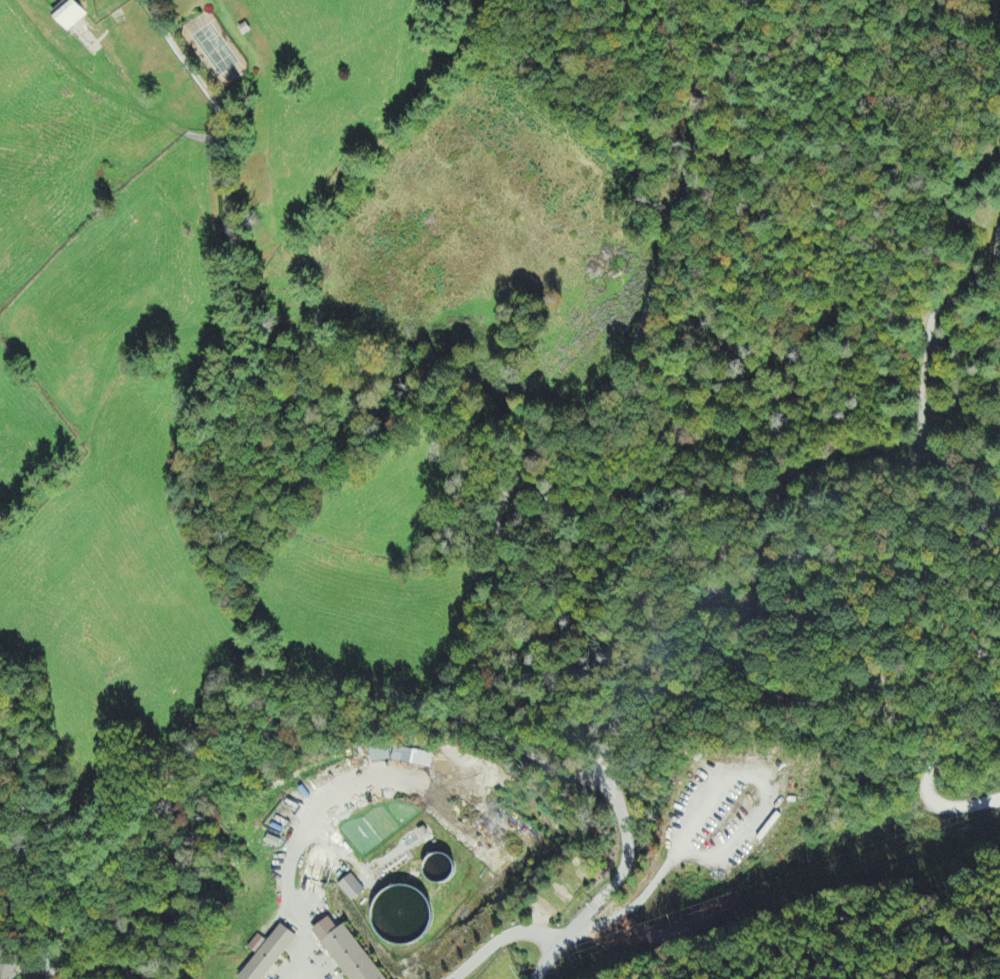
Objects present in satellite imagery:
building: (69, 15)
road: (638, 67)
road: (251, 335)
road: (520, 410)
road: (613, 753)
building: (378, 755)
building: (411, 758)
road: (14, 821)
power tower: (929, 829)
road: (299, 841)
road: (612, 884)
building: (349, 889)
road: (68, 935)
road: (501, 940)
building: (345, 952)
building: (268, 954)
building: (8, 970)
power tower: (527, 978)

